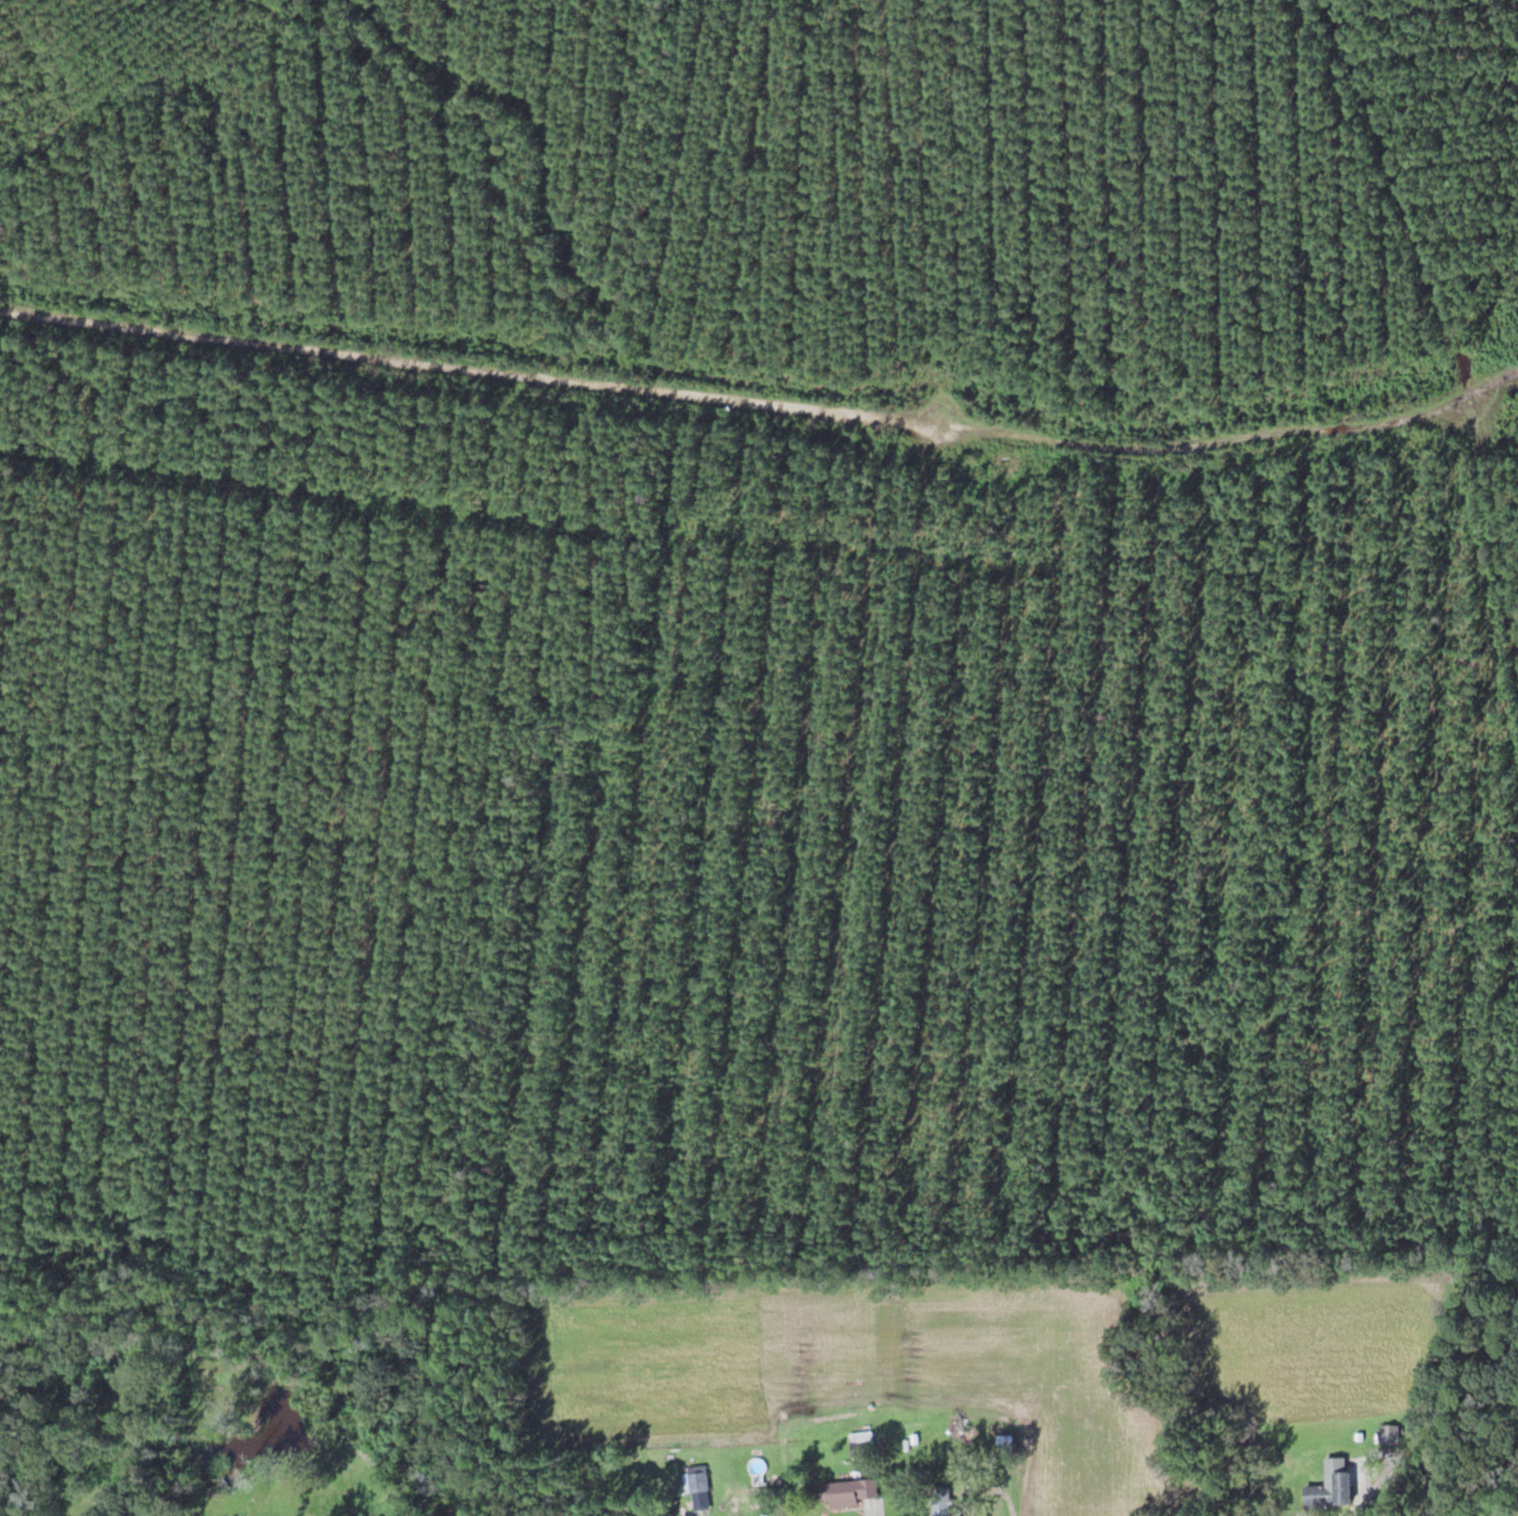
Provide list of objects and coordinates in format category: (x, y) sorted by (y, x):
road: (446, 365)
building: (862, 1442)
building: (1332, 1485)
building: (699, 1487)
building: (850, 1492)
building: (943, 1504)

